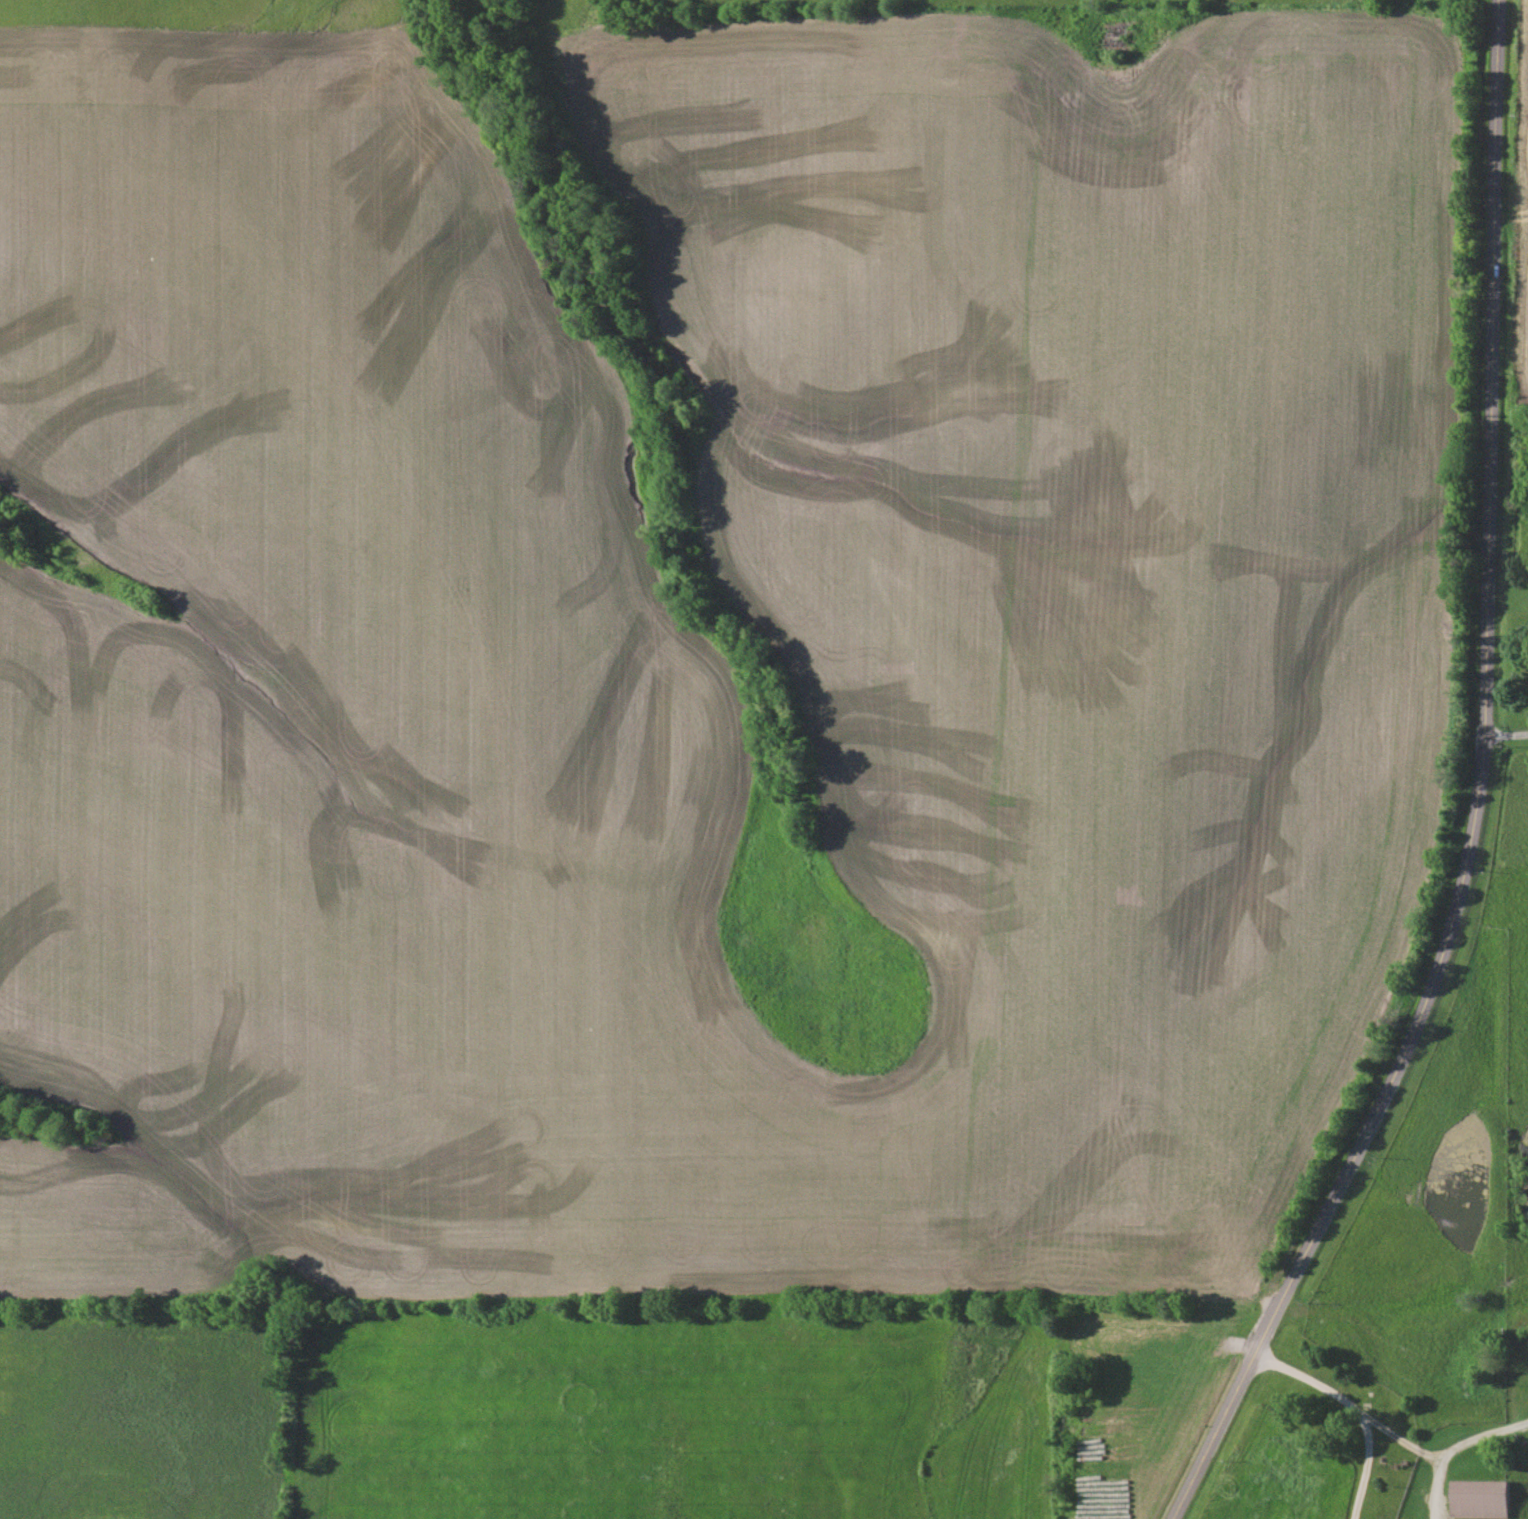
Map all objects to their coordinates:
road: (1506, 733)
road: (1477, 792)
road: (1304, 1378)
road: (1478, 1436)
road: (1420, 1449)
road: (1367, 1463)
building: (1480, 1498)

